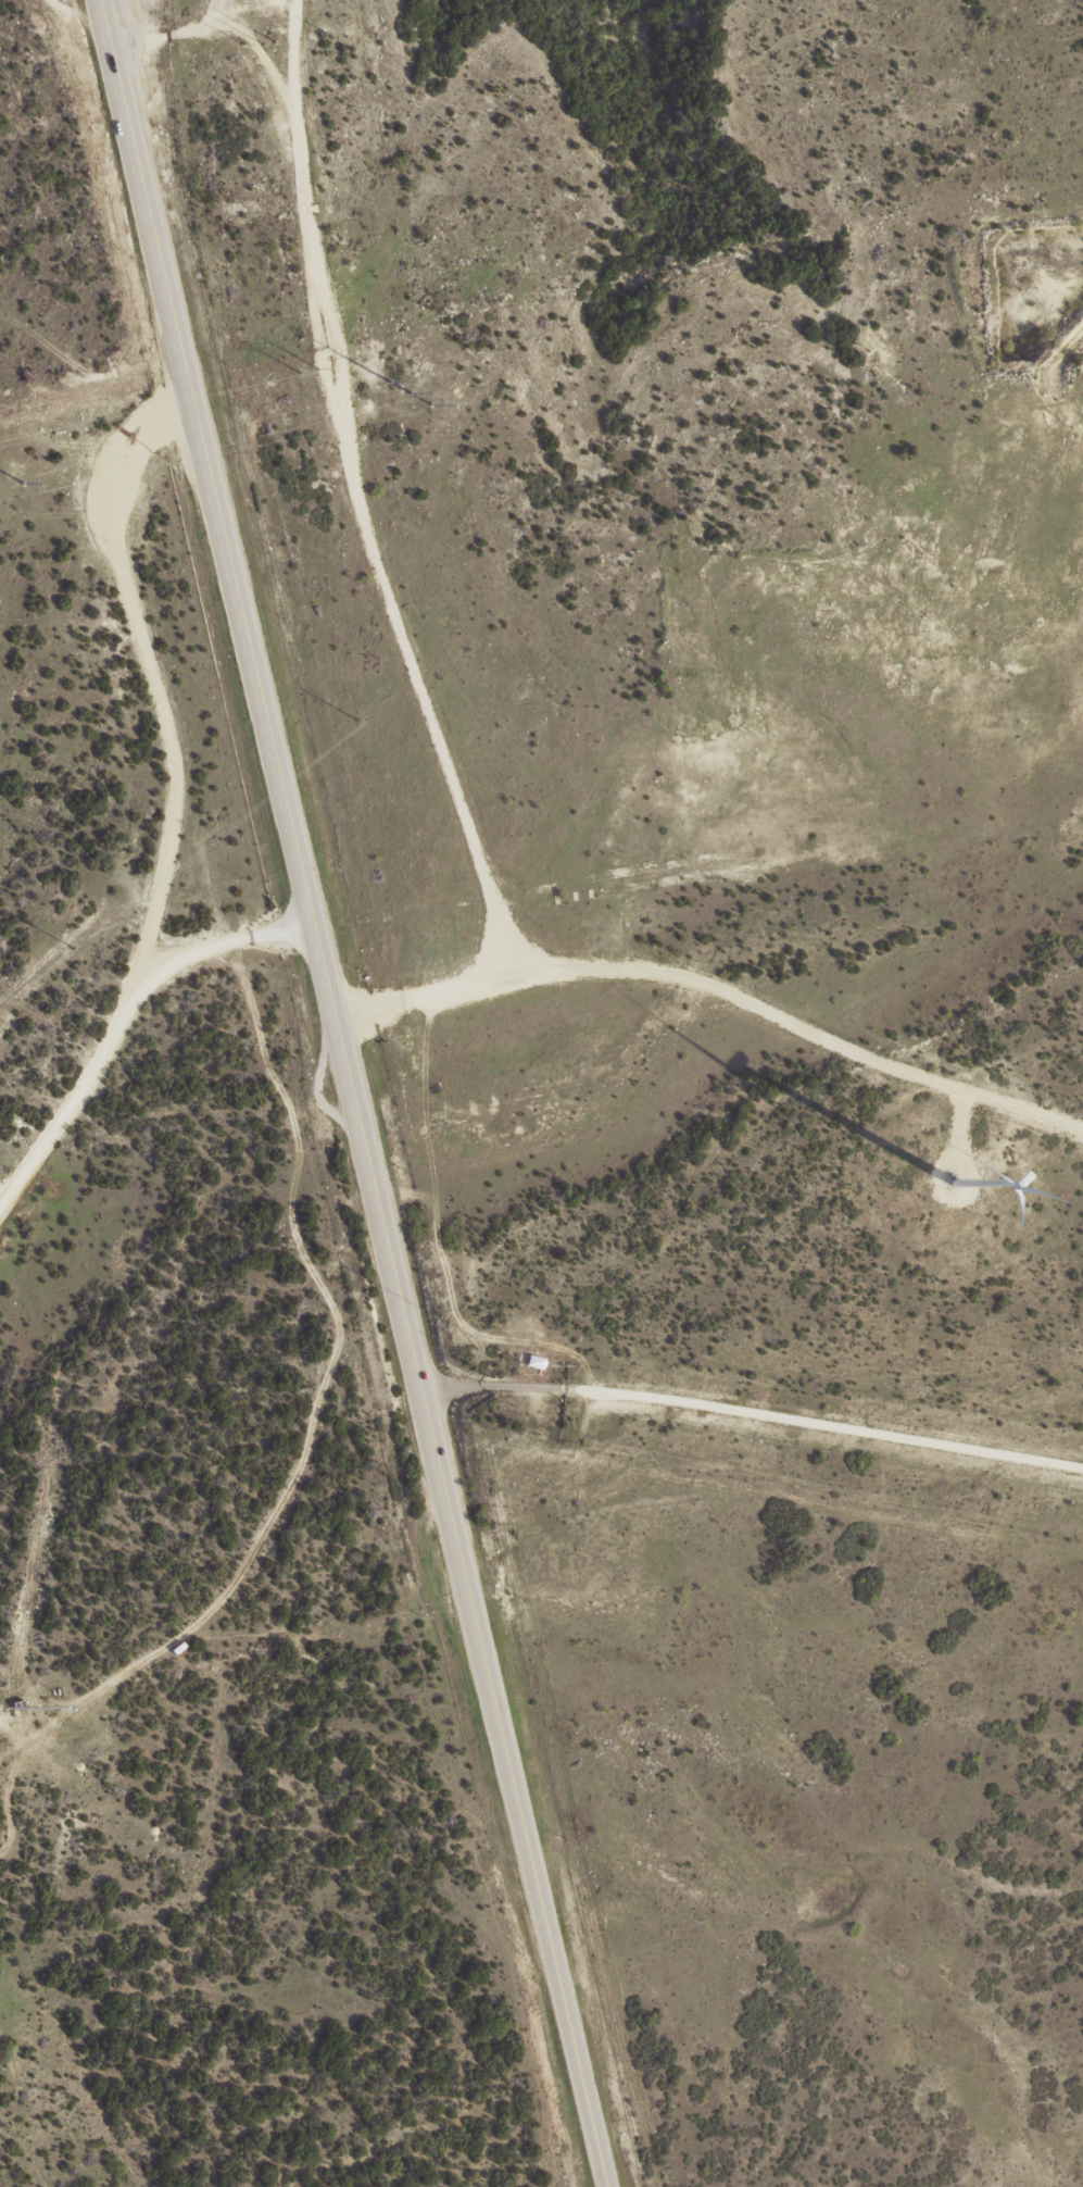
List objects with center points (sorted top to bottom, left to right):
power tower: (266, 41)
power tower: (242, 43)
power tower: (317, 368)
power tower: (298, 372)
power tower: (410, 392)
road: (98, 473)
power tower: (22, 484)
road: (358, 498)
power tower: (355, 718)
road: (162, 854)
power tower: (74, 947)
road: (718, 988)
road: (352, 1093)
wind turbine: (967, 1178)
road: (753, 1411)

